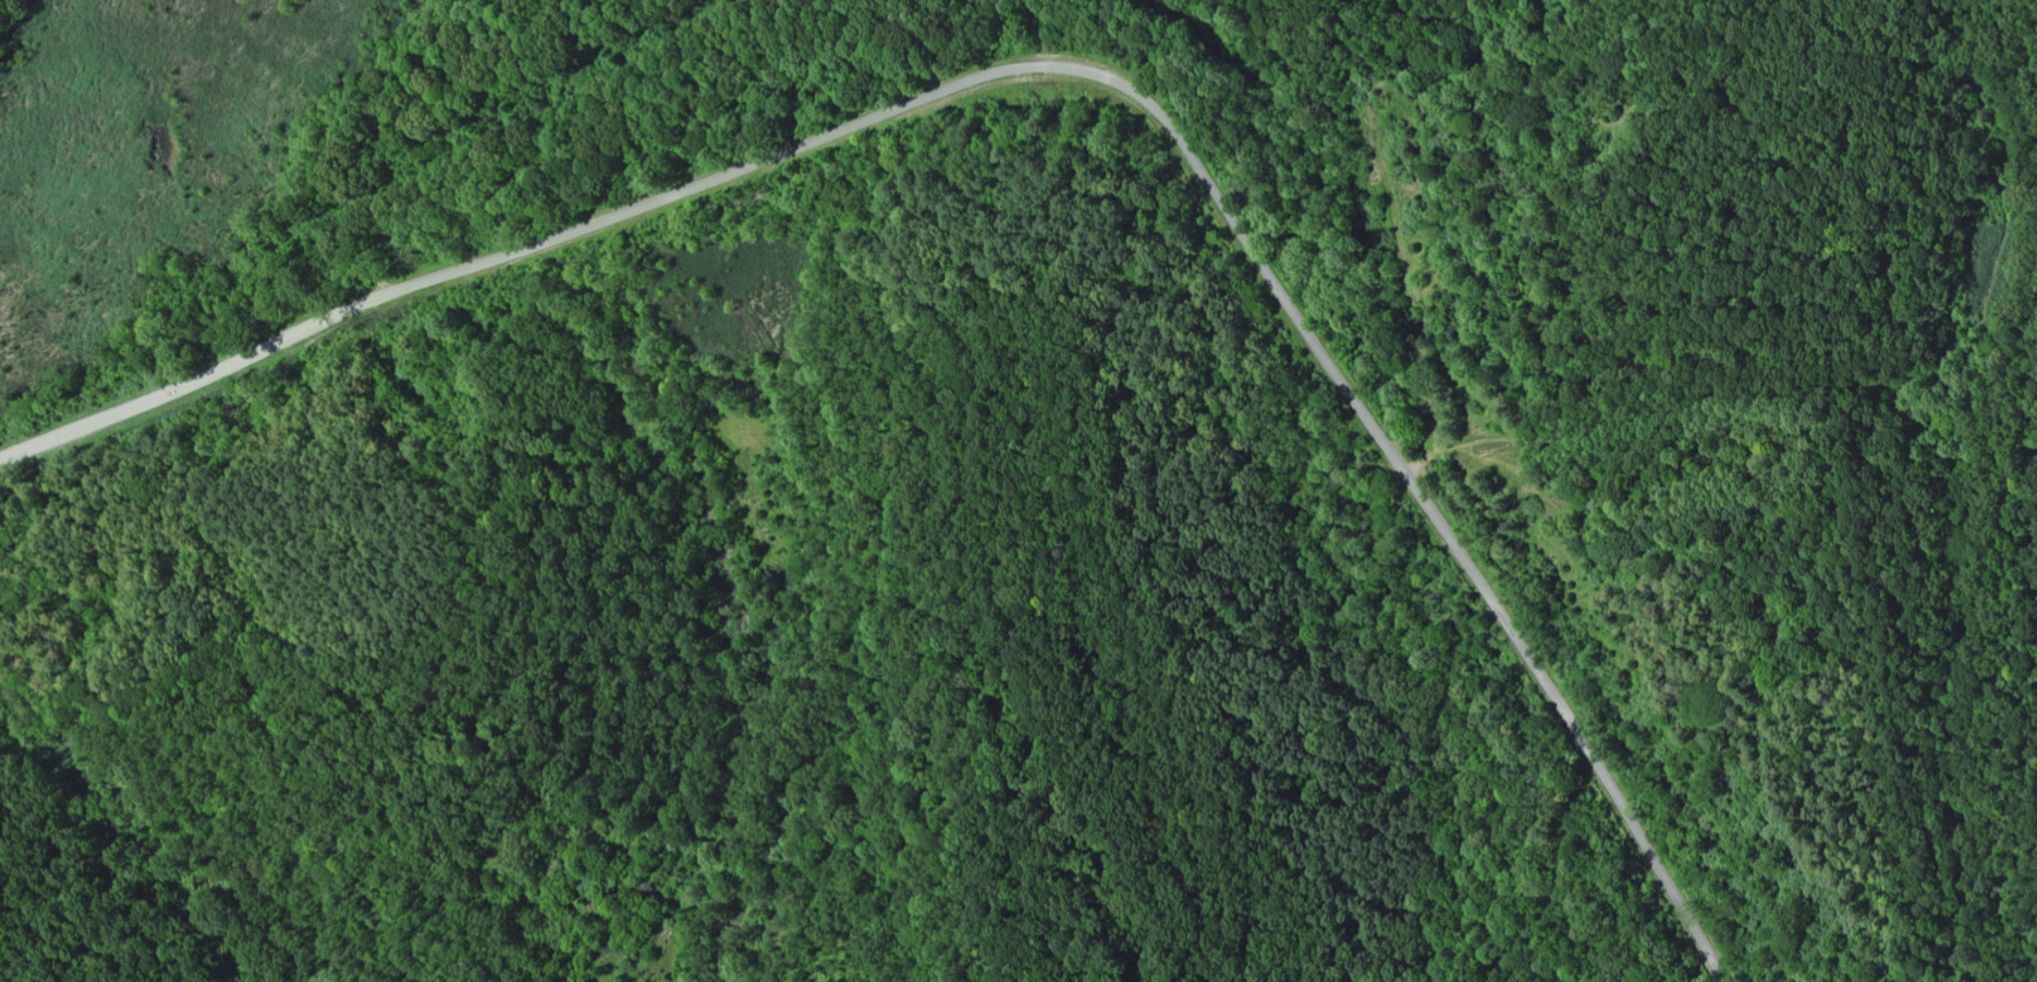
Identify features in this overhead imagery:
road: (1068, 67)

